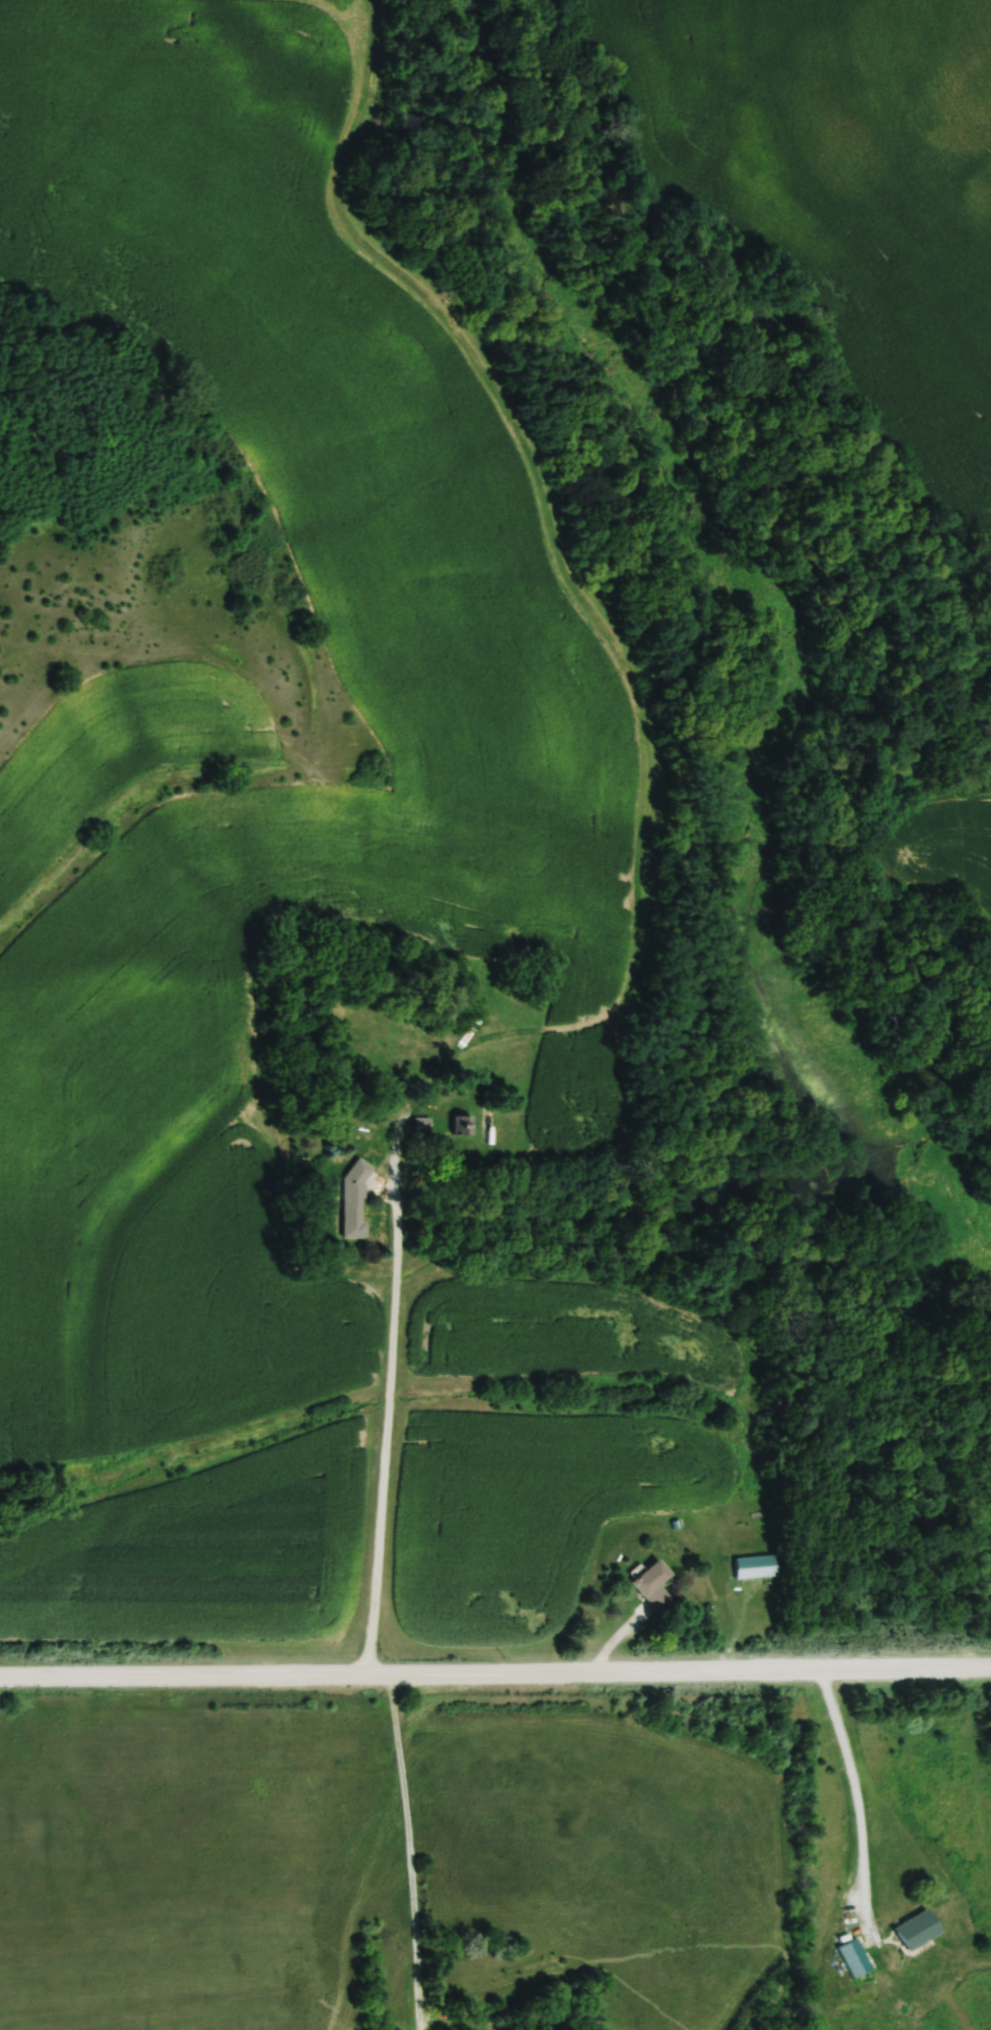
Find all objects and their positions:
building: (499, 1061)
building: (358, 1200)
road: (384, 1415)
building: (759, 1567)
building: (654, 1579)
road: (495, 1665)
road: (855, 1796)
road: (408, 1848)
building: (921, 1931)
building: (858, 1959)

